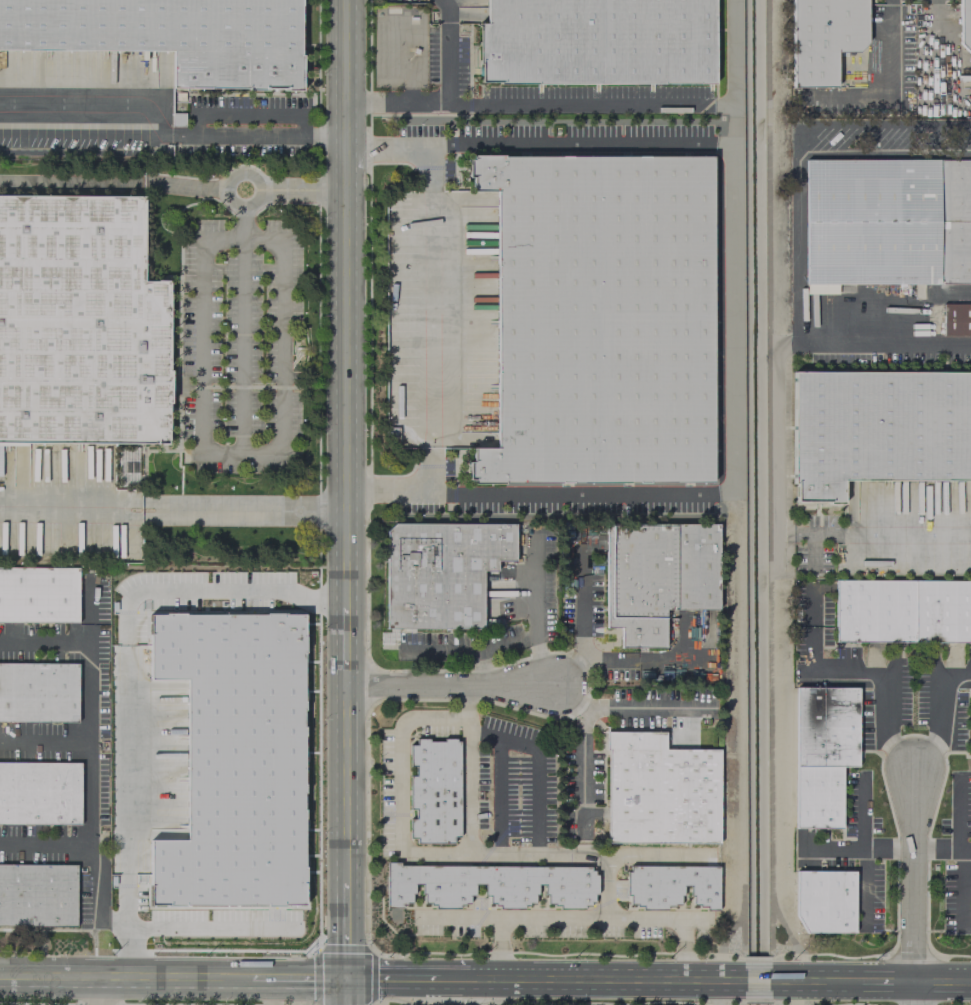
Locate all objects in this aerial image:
building: (964, 24)
building: (169, 35)
building: (823, 38)
building: (596, 41)
road: (937, 44)
road: (885, 86)
road: (586, 100)
road: (394, 102)
road: (95, 111)
building: (177, 119)
road: (260, 136)
road: (797, 143)
road: (73, 182)
road: (245, 189)
building: (886, 223)
road: (732, 318)
building: (600, 319)
building: (956, 319)
building: (79, 321)
road: (798, 334)
building: (878, 429)
road: (219, 452)
road: (768, 480)
road: (345, 502)
building: (804, 505)
road: (72, 509)
road: (244, 511)
road: (876, 533)
building: (441, 572)
building: (657, 575)
building: (38, 594)
road: (132, 597)
road: (583, 600)
building: (876, 610)
road: (535, 611)
building: (943, 611)
road: (491, 647)
road: (441, 650)
road: (642, 658)
road: (574, 672)
road: (865, 674)
road: (450, 684)
building: (38, 691)
road: (628, 706)
road: (936, 716)
building: (828, 727)
road: (483, 733)
building: (970, 734)
road: (46, 739)
road: (513, 742)
building: (234, 759)
road: (92, 765)
road: (582, 772)
road: (398, 787)
building: (660, 790)
building: (434, 791)
building: (39, 793)
building: (820, 796)
road: (863, 813)
road: (47, 843)
road: (943, 847)
road: (859, 849)
road: (566, 854)
road: (128, 872)
road: (863, 876)
road: (915, 879)
building: (489, 884)
building: (672, 885)
building: (37, 895)
building: (827, 902)
road: (676, 917)
road: (458, 918)
road: (178, 926)
road: (297, 977)
traffic signals: (344, 977)
road: (390, 977)
road: (459, 978)
road: (124, 979)
road: (498, 979)
road: (555, 980)
road: (726, 982)
road: (885, 983)
road: (943, 983)
road: (98, 992)
road: (714, 993)
road: (915, 994)
road: (771, 1004)

